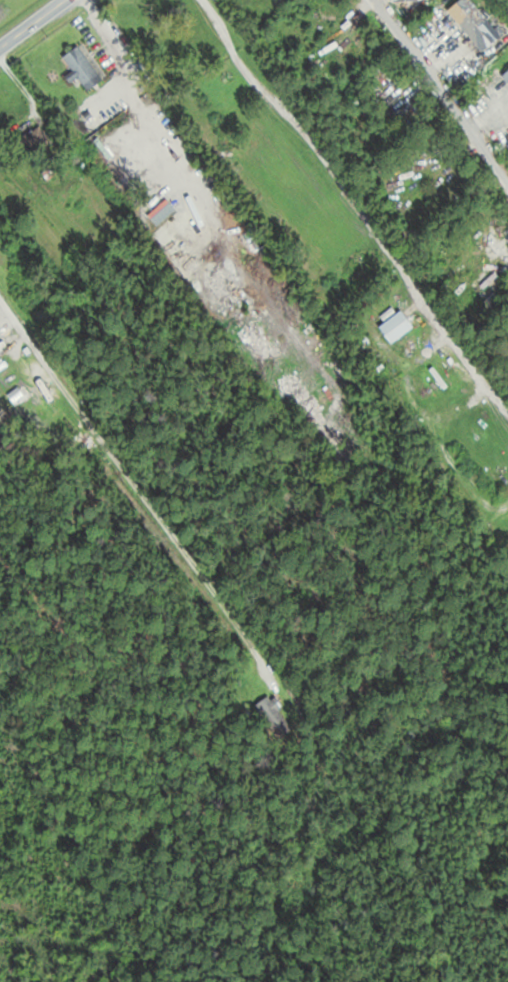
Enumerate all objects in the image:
road: (31, 23)
building: (475, 24)
road: (110, 30)
building: (83, 65)
building: (506, 75)
road: (440, 90)
road: (355, 205)
building: (28, 285)
building: (396, 327)
road: (135, 493)

